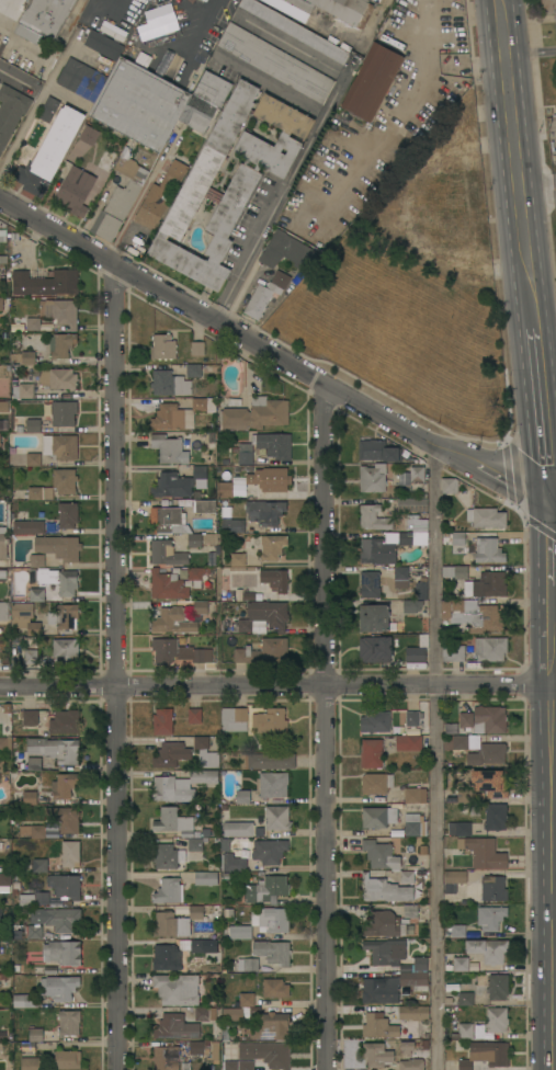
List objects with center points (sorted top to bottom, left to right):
building: (204, 0)
building: (377, 0)
building: (288, 9)
building: (548, 10)
road: (90, 11)
building: (337, 11)
building: (157, 18)
building: (43, 19)
road: (206, 21)
building: (294, 30)
building: (103, 45)
road: (530, 55)
building: (275, 62)
building: (374, 78)
road: (18, 80)
building: (81, 80)
building: (203, 101)
building: (138, 102)
road: (33, 109)
building: (47, 109)
building: (11, 111)
building: (246, 135)
building: (77, 141)
road: (308, 143)
building: (49, 152)
building: (324, 152)
road: (514, 158)
building: (251, 168)
road: (536, 189)
building: (79, 190)
building: (160, 192)
road: (140, 194)
building: (118, 197)
building: (232, 202)
building: (2, 234)
building: (286, 251)
building: (45, 283)
building: (265, 294)
building: (1, 304)
building: (61, 312)
building: (33, 323)
road: (543, 325)
building: (61, 344)
building: (162, 346)
building: (197, 349)
road: (273, 354)
building: (23, 358)
building: (193, 371)
building: (58, 379)
building: (169, 384)
building: (23, 390)
building: (3, 406)
building: (64, 413)
building: (181, 413)
road: (538, 413)
building: (254, 414)
building: (29, 426)
building: (59, 446)
building: (171, 447)
building: (265, 447)
building: (378, 451)
building: (32, 459)
building: (416, 474)
building: (372, 478)
building: (270, 479)
building: (175, 482)
building: (55, 486)
building: (449, 486)
building: (225, 490)
building: (411, 504)
building: (205, 506)
traffic signals: (548, 510)
road: (552, 511)
building: (68, 514)
building: (232, 515)
building: (263, 516)
building: (373, 517)
building: (486, 517)
building: (167, 521)
building: (26, 525)
building: (413, 531)
building: (458, 538)
building: (194, 540)
building: (3, 546)
building: (271, 546)
building: (58, 547)
road: (549, 547)
building: (486, 550)
building: (376, 551)
building: (166, 553)
building: (238, 559)
building: (36, 560)
building: (455, 571)
building: (3, 574)
building: (197, 574)
building: (400, 578)
building: (274, 579)
building: (59, 580)
building: (370, 584)
building: (487, 584)
building: (167, 585)
building: (421, 589)
building: (36, 595)
building: (412, 606)
building: (200, 607)
building: (2, 608)
building: (22, 611)
building: (264, 615)
building: (473, 615)
building: (65, 616)
building: (374, 618)
building: (172, 622)
building: (33, 628)
building: (490, 648)
building: (274, 649)
building: (375, 649)
building: (31, 650)
building: (65, 650)
building: (178, 651)
building: (453, 652)
building: (246, 654)
building: (416, 654)
road: (116, 667)
road: (277, 683)
building: (7, 708)
building: (194, 716)
building: (29, 717)
building: (412, 718)
building: (234, 719)
building: (489, 719)
building: (270, 720)
building: (465, 720)
building: (64, 721)
building: (162, 721)
building: (375, 721)
road: (324, 727)
building: (5, 740)
building: (408, 742)
building: (461, 742)
building: (55, 749)
building: (205, 752)
building: (371, 753)
building: (171, 754)
building: (487, 754)
road: (434, 758)
building: (269, 761)
building: (34, 764)
building: (1, 765)
building: (204, 776)
building: (492, 782)
building: (376, 783)
building: (64, 785)
building: (272, 785)
building: (171, 789)
building: (417, 795)
building: (464, 795)
building: (242, 797)
building: (30, 798)
building: (378, 817)
building: (496, 817)
building: (65, 818)
building: (277, 818)
building: (413, 826)
building: (178, 827)
road: (553, 828)
building: (238, 829)
building: (456, 829)
building: (33, 831)
building: (269, 851)
building: (70, 853)
building: (485, 853)
building: (379, 854)
building: (168, 857)
building: (232, 864)
building: (39, 866)
building: (407, 877)
building: (205, 878)
building: (5, 879)
building: (453, 880)
building: (65, 886)
building: (266, 889)
building: (492, 889)
building: (384, 890)
building: (168, 891)
building: (33, 899)
road: (554, 907)
building: (410, 911)
building: (228, 913)
building: (490, 917)
building: (56, 919)
building: (271, 920)
building: (175, 922)
building: (383, 924)
building: (237, 931)
building: (457, 931)
building: (34, 932)
building: (195, 945)
building: (488, 951)
building: (273, 952)
building: (61, 953)
building: (164, 957)
building: (396, 961)
building: (420, 964)
building: (461, 964)
building: (246, 965)
building: (3, 982)
building: (58, 987)
building: (498, 987)
building: (177, 989)
building: (274, 989)
building: (379, 990)
building: (465, 999)
building: (246, 1000)
building: (25, 1001)
building: (447, 1001)
building: (413, 1013)
building: (232, 1015)
building: (496, 1020)
building: (68, 1022)
building: (182, 1023)
building: (269, 1026)
building: (378, 1026)
building: (220, 1032)
building: (461, 1032)
building: (424, 1035)
building: (37, 1038)
building: (425, 1045)
building: (406, 1047)
building: (196, 1048)
building: (266, 1054)
building: (489, 1054)
building: (377, 1055)
building: (166, 1058)
building: (67, 1059)
building: (31, 1063)
building: (243, 1065)
building: (410, 1065)
building: (464, 1066)

